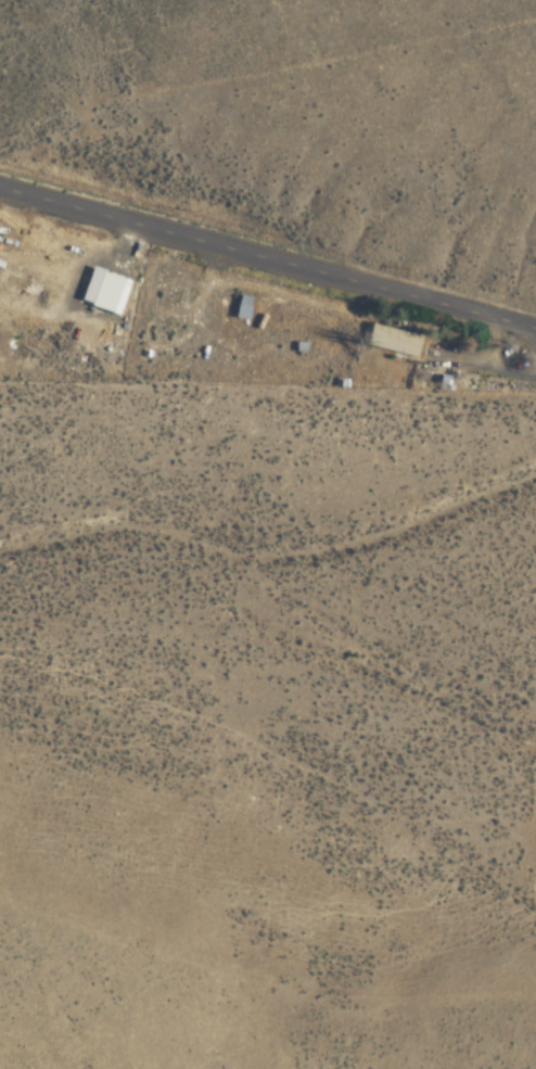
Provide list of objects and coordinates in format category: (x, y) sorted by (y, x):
road: (268, 256)
building: (240, 308)
building: (190, 320)
building: (394, 342)

